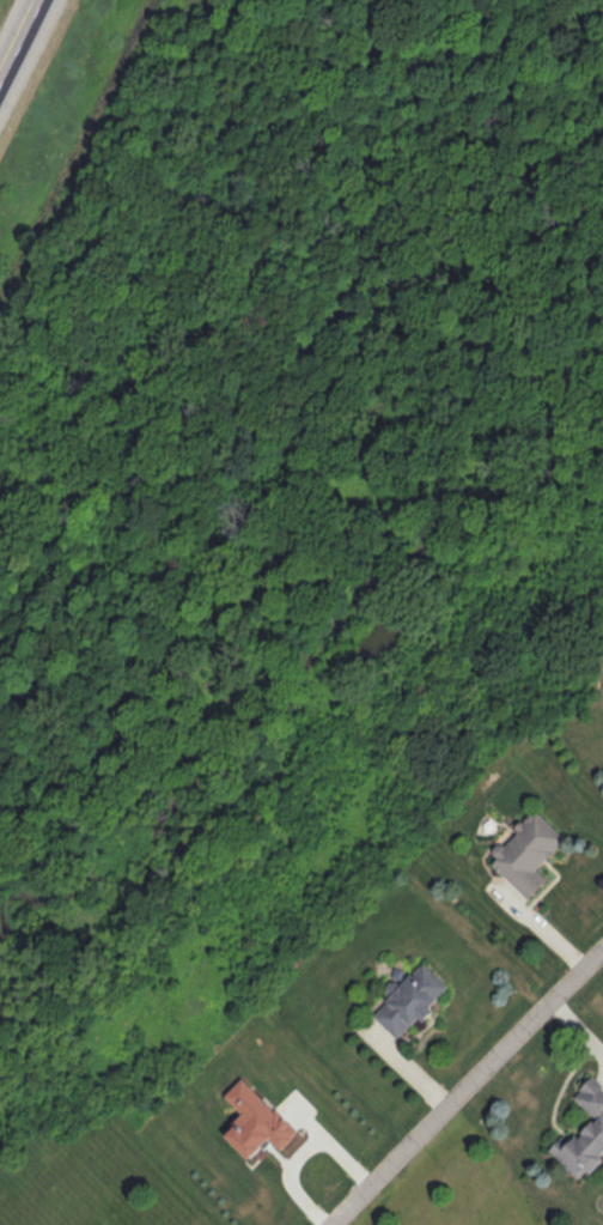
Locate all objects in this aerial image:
road: (23, 46)
building: (529, 854)
road: (544, 930)
building: (412, 1001)
road: (470, 1093)
building: (586, 1134)

